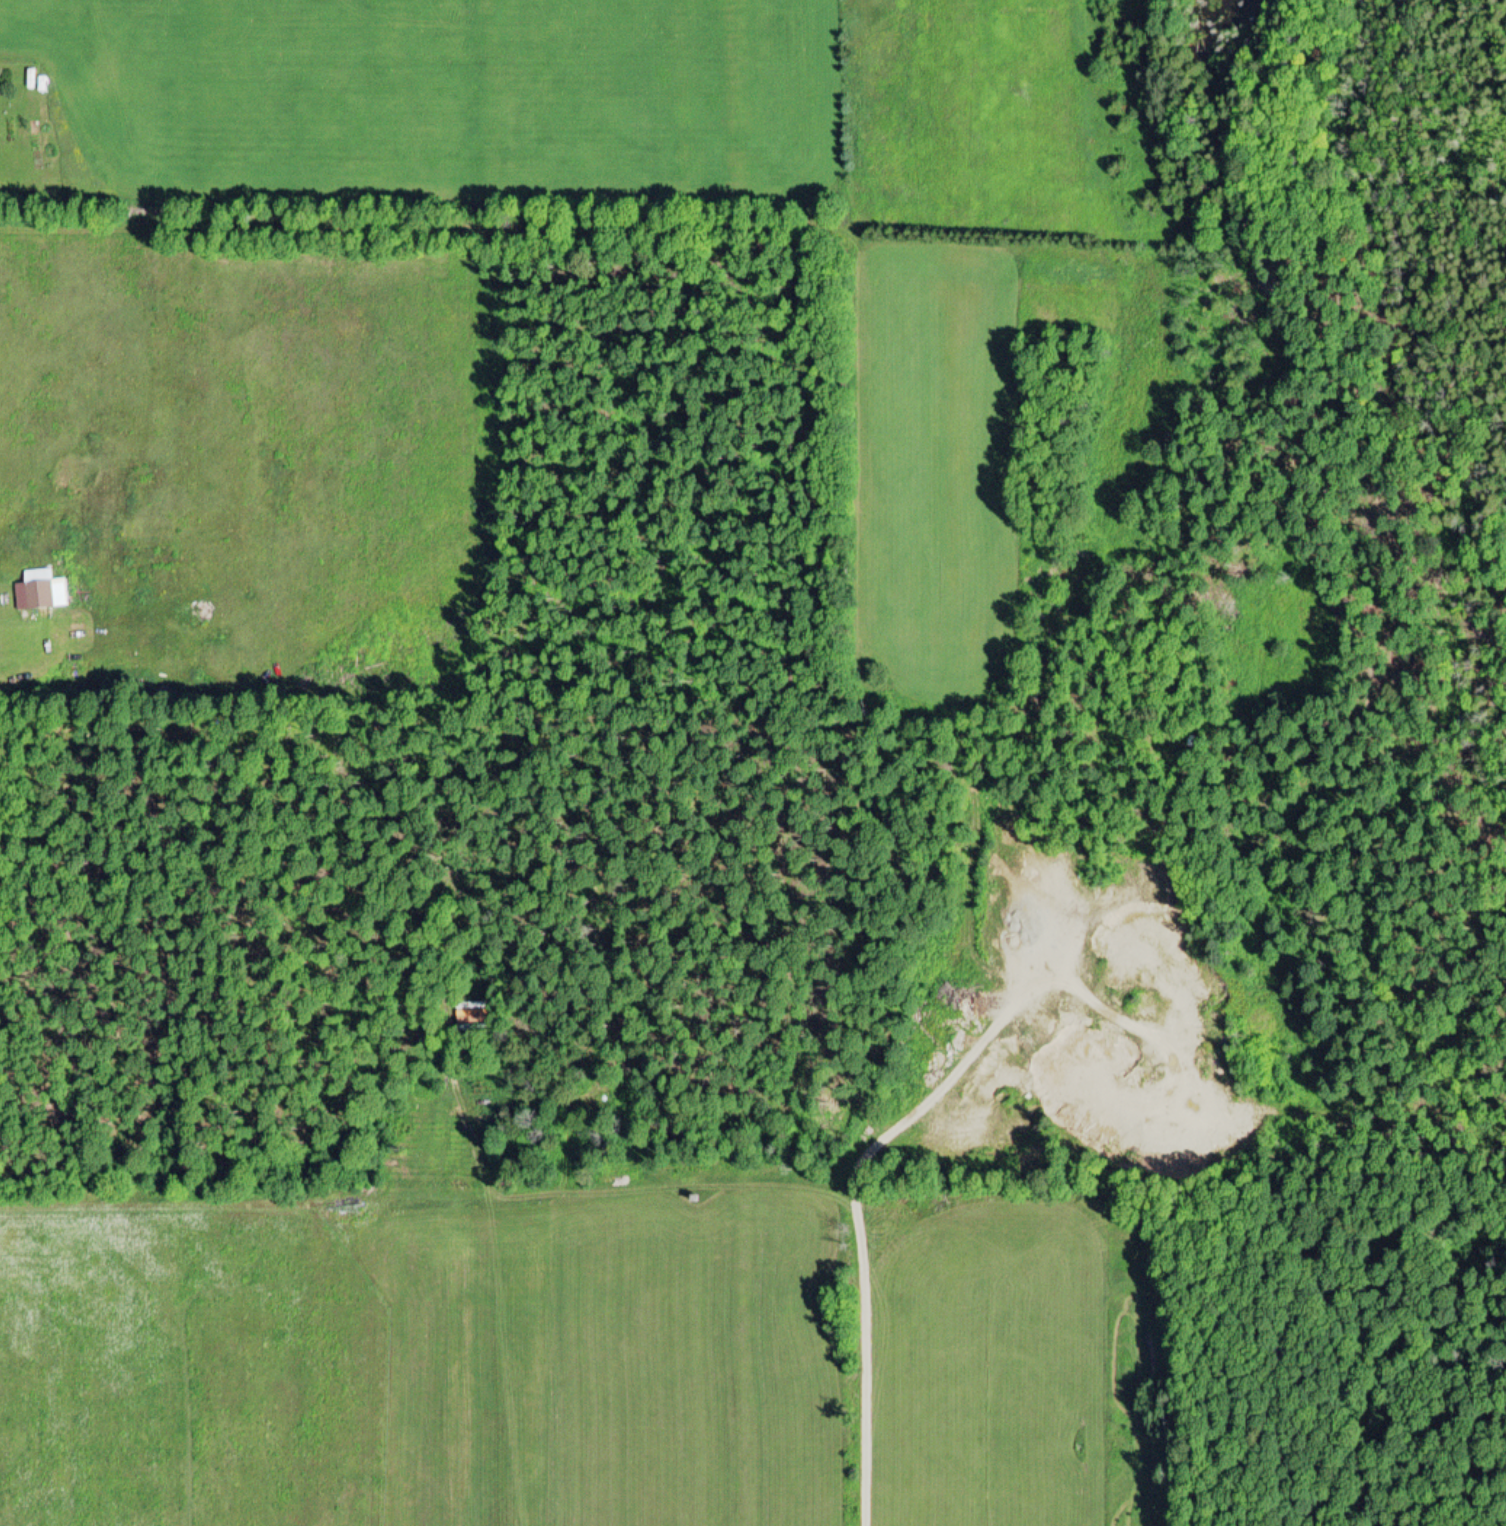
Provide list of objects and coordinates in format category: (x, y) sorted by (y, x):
building: (40, 592)

